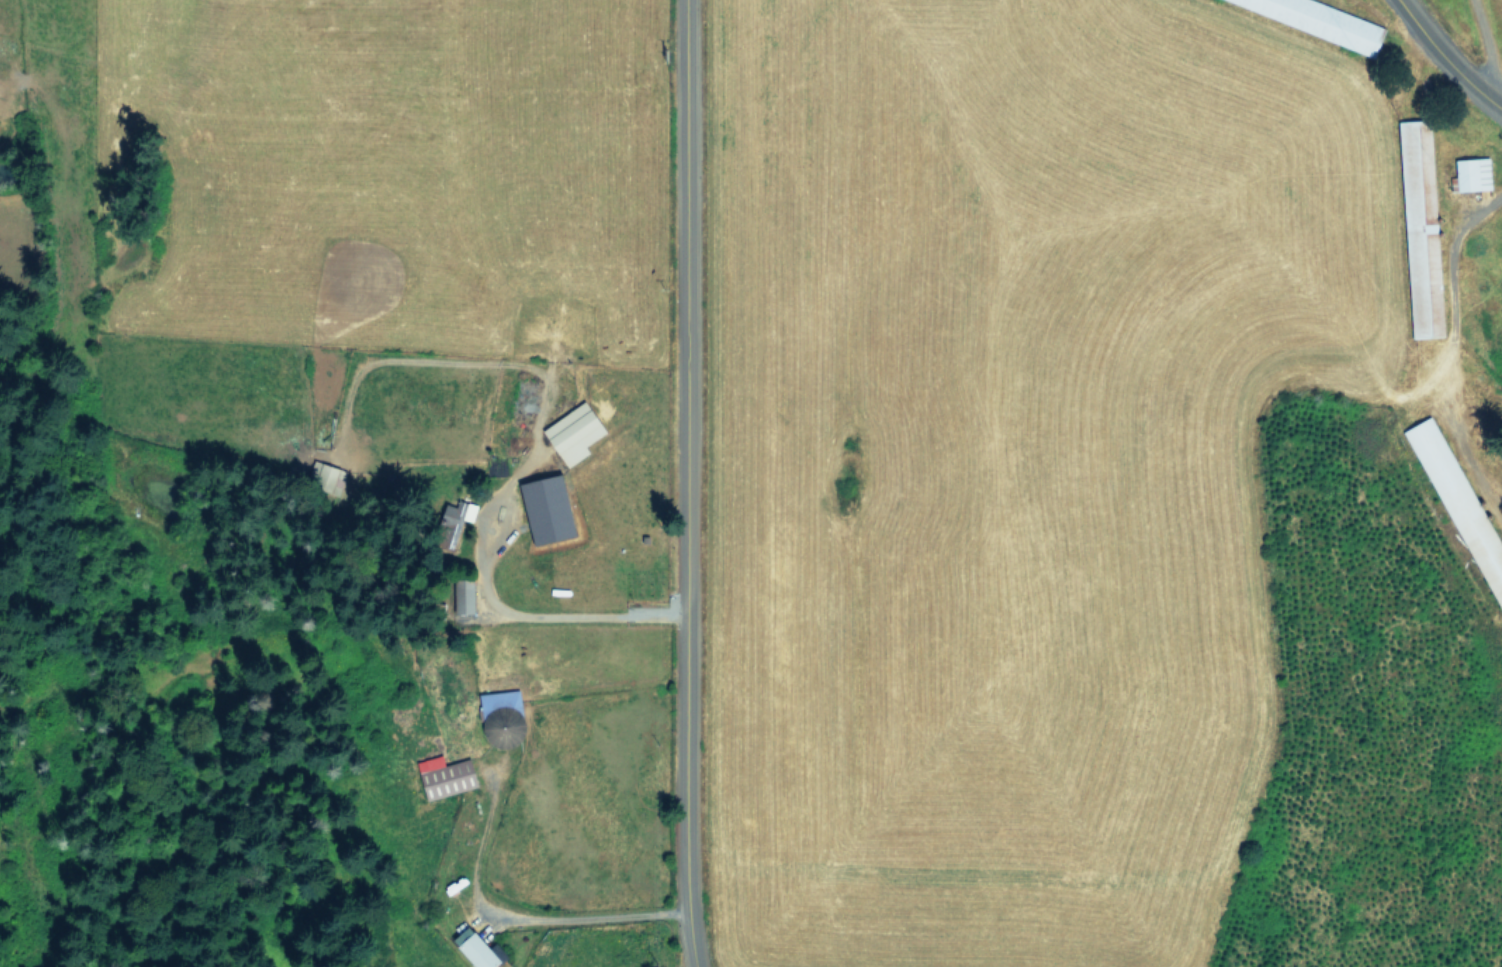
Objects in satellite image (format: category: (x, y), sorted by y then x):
building: (1325, 20)
road: (1443, 61)
building: (1474, 173)
building: (576, 432)
road: (679, 483)
building: (550, 508)
building: (504, 718)
building: (446, 776)
building: (478, 948)

